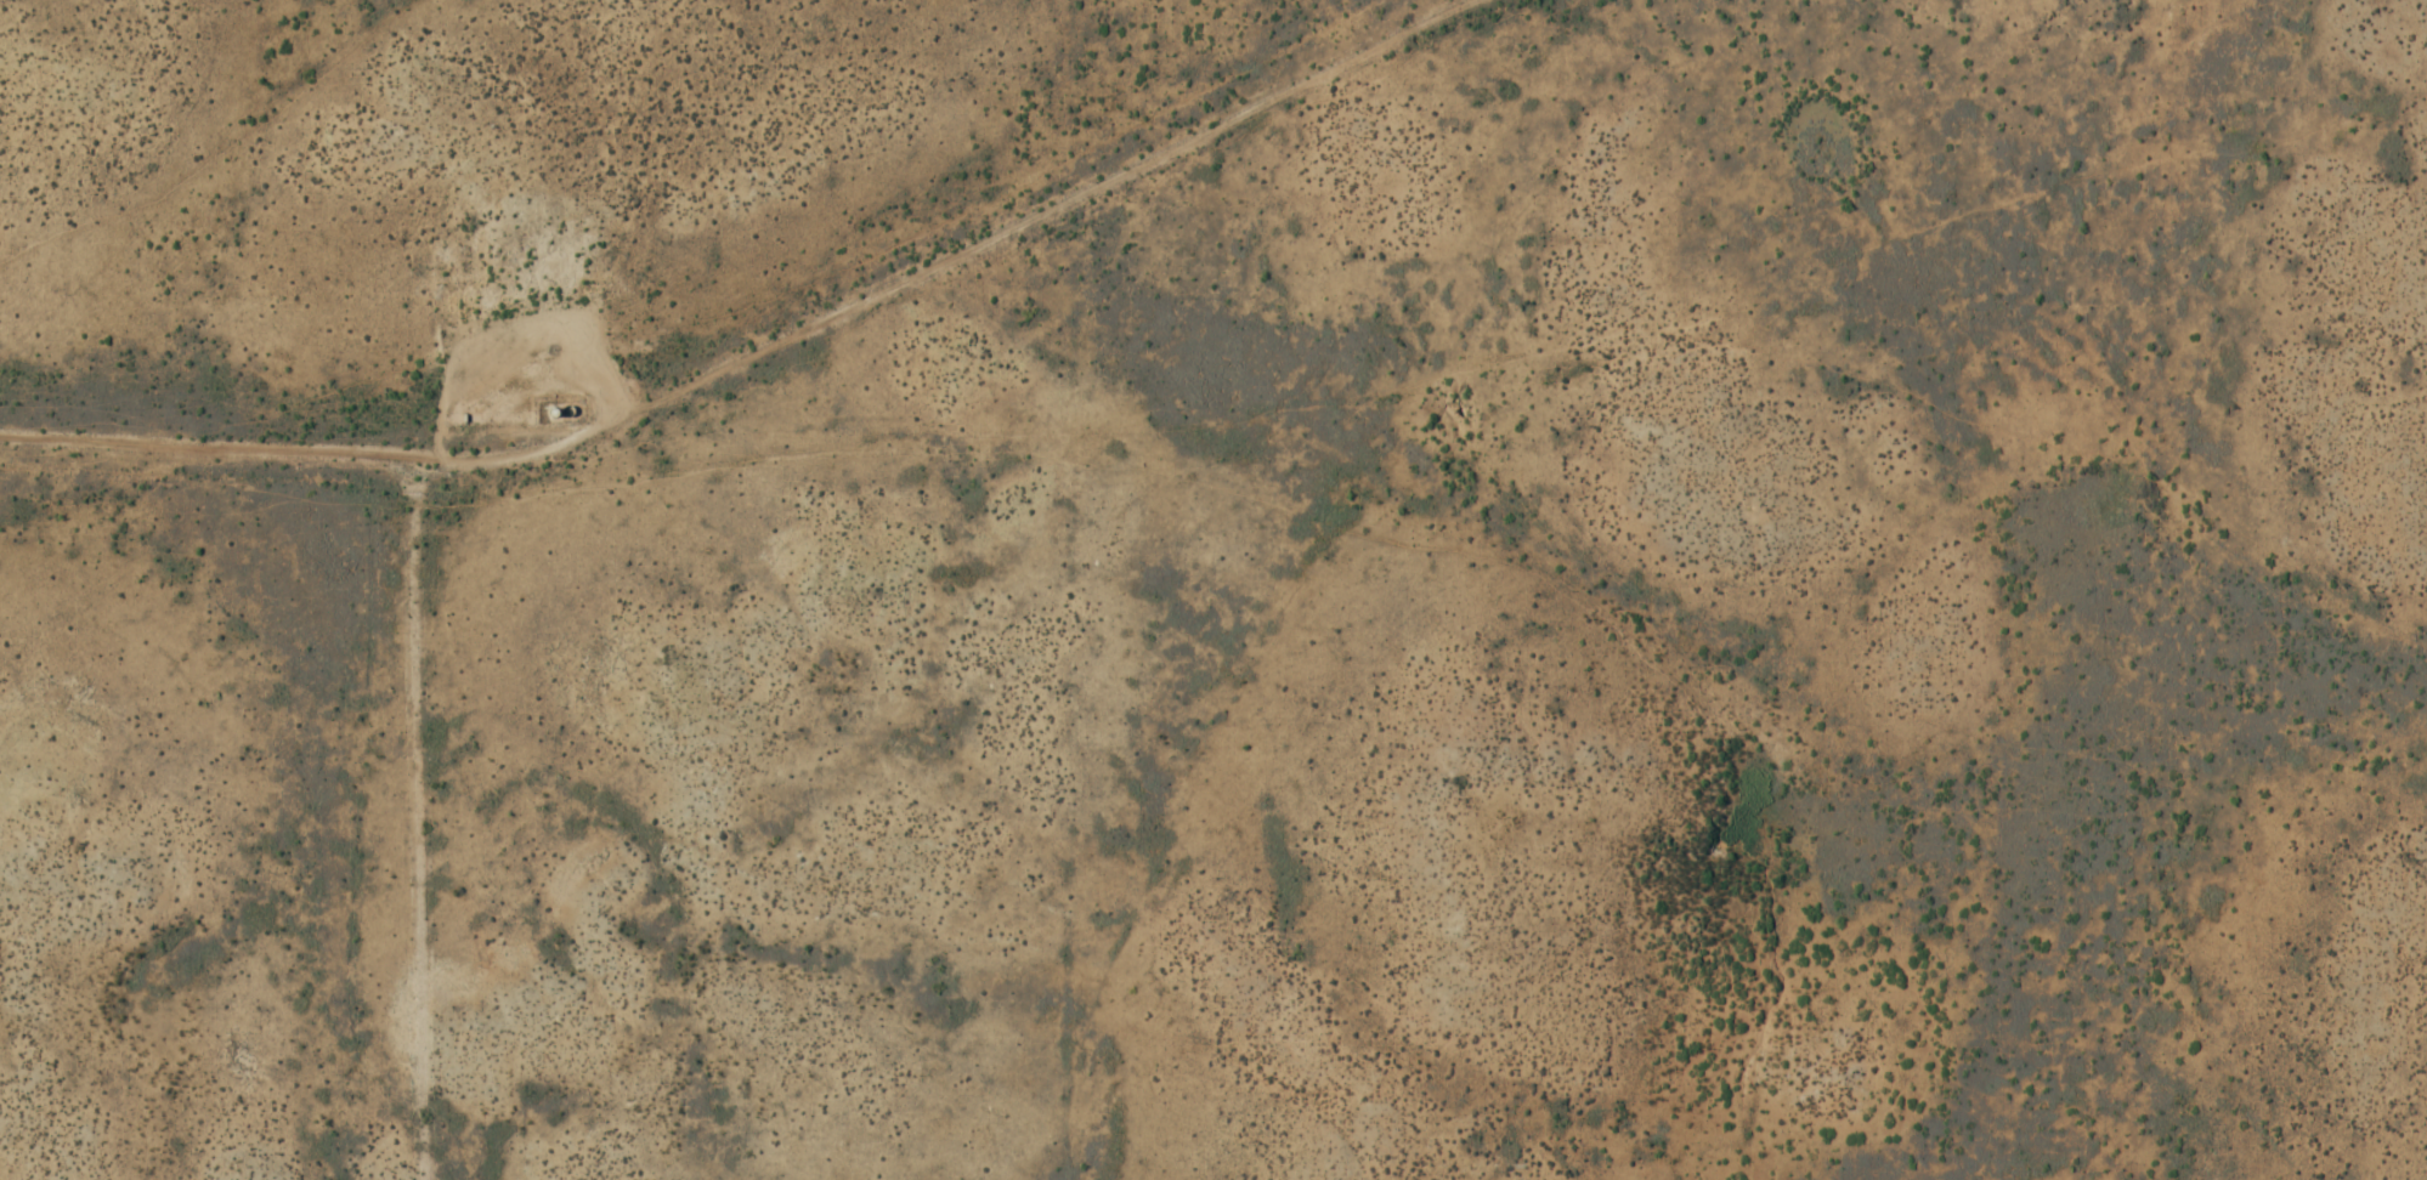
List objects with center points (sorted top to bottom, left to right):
road: (765, 342)
road: (418, 816)

